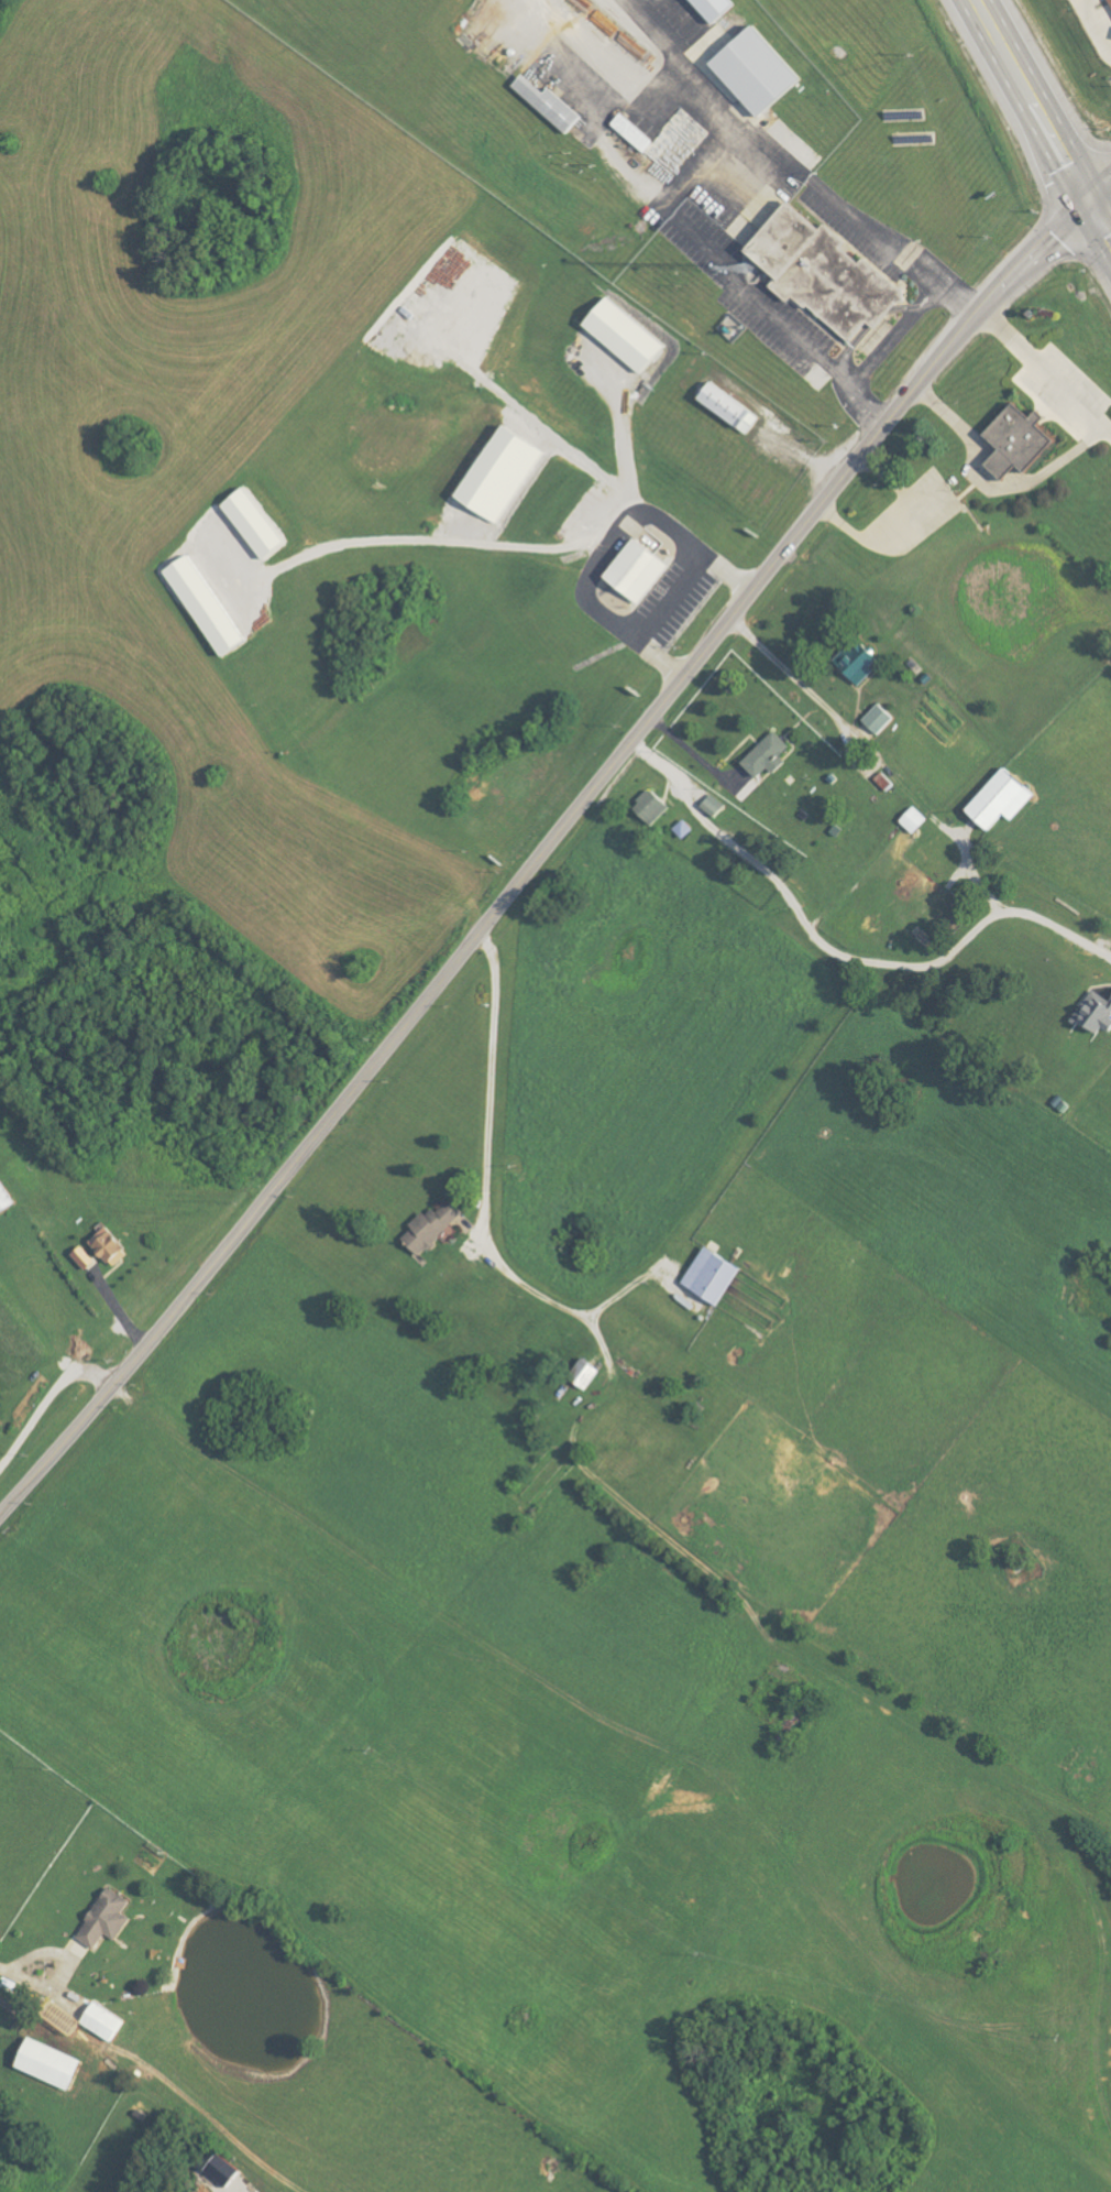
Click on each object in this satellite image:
building: (718, 8)
building: (761, 73)
road: (1020, 81)
building: (552, 106)
building: (636, 133)
road: (1078, 142)
road: (791, 168)
road: (1078, 185)
road: (1100, 196)
road: (1110, 214)
road: (1055, 222)
road: (1100, 226)
road: (1055, 239)
road: (1065, 250)
building: (827, 275)
road: (743, 281)
road: (894, 334)
building: (627, 336)
road: (1048, 370)
building: (733, 410)
building: (1023, 443)
road: (619, 454)
building: (504, 476)
road: (993, 484)
road: (900, 522)
building: (258, 525)
road: (424, 541)
road: (603, 543)
building: (640, 572)
road: (664, 596)
building: (208, 607)
building: (859, 662)
building: (881, 719)
road: (921, 752)
road: (693, 754)
building: (770, 755)
building: (1004, 799)
building: (714, 805)
building: (653, 807)
building: (916, 820)
road: (512, 895)
road: (839, 953)
building: (1097, 1013)
road: (486, 1143)
building: (7, 1199)
building: (435, 1228)
building: (112, 1247)
building: (86, 1258)
building: (715, 1276)
building: (587, 1374)
road: (51, 1392)
building: (107, 1920)
road: (21, 1969)
building: (105, 2022)
building: (51, 2064)
building: (224, 2171)

